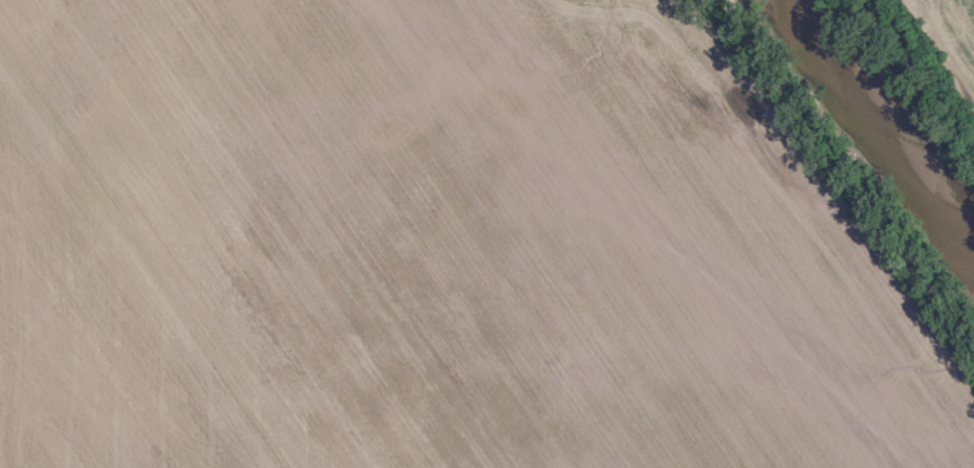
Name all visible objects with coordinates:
river: (878, 138)

